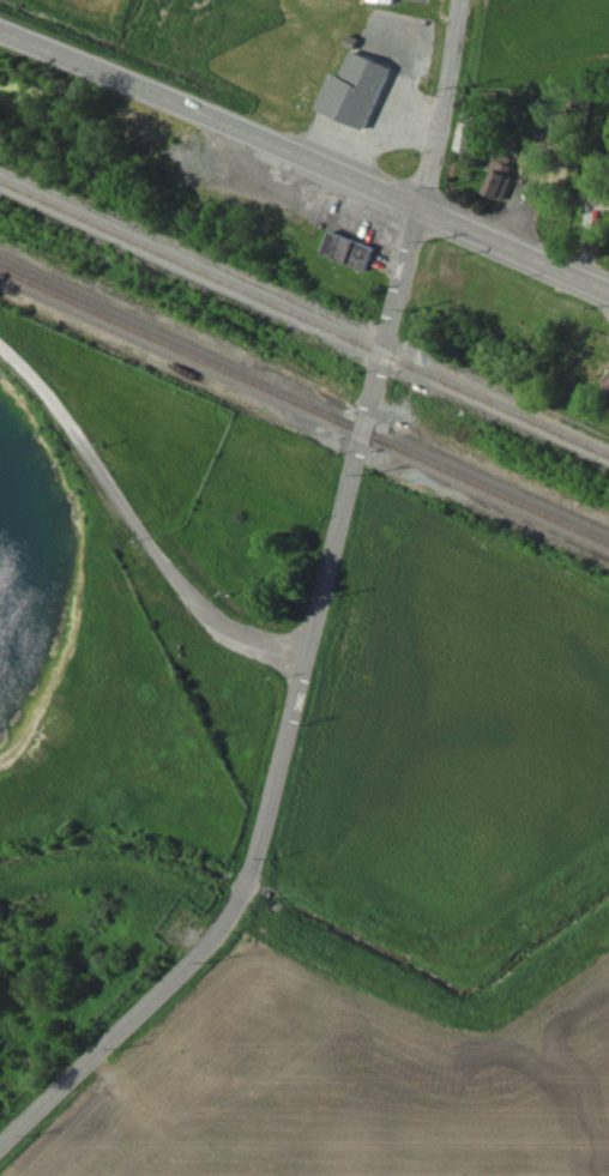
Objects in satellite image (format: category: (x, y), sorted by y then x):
building: (390, 1)
park: (533, 41)
building: (363, 91)
building: (477, 128)
road: (306, 162)
building: (505, 180)
road: (514, 249)
building: (357, 253)
railway: (303, 315)
railway: (303, 408)
road: (367, 411)
road: (139, 527)
road: (159, 1003)

